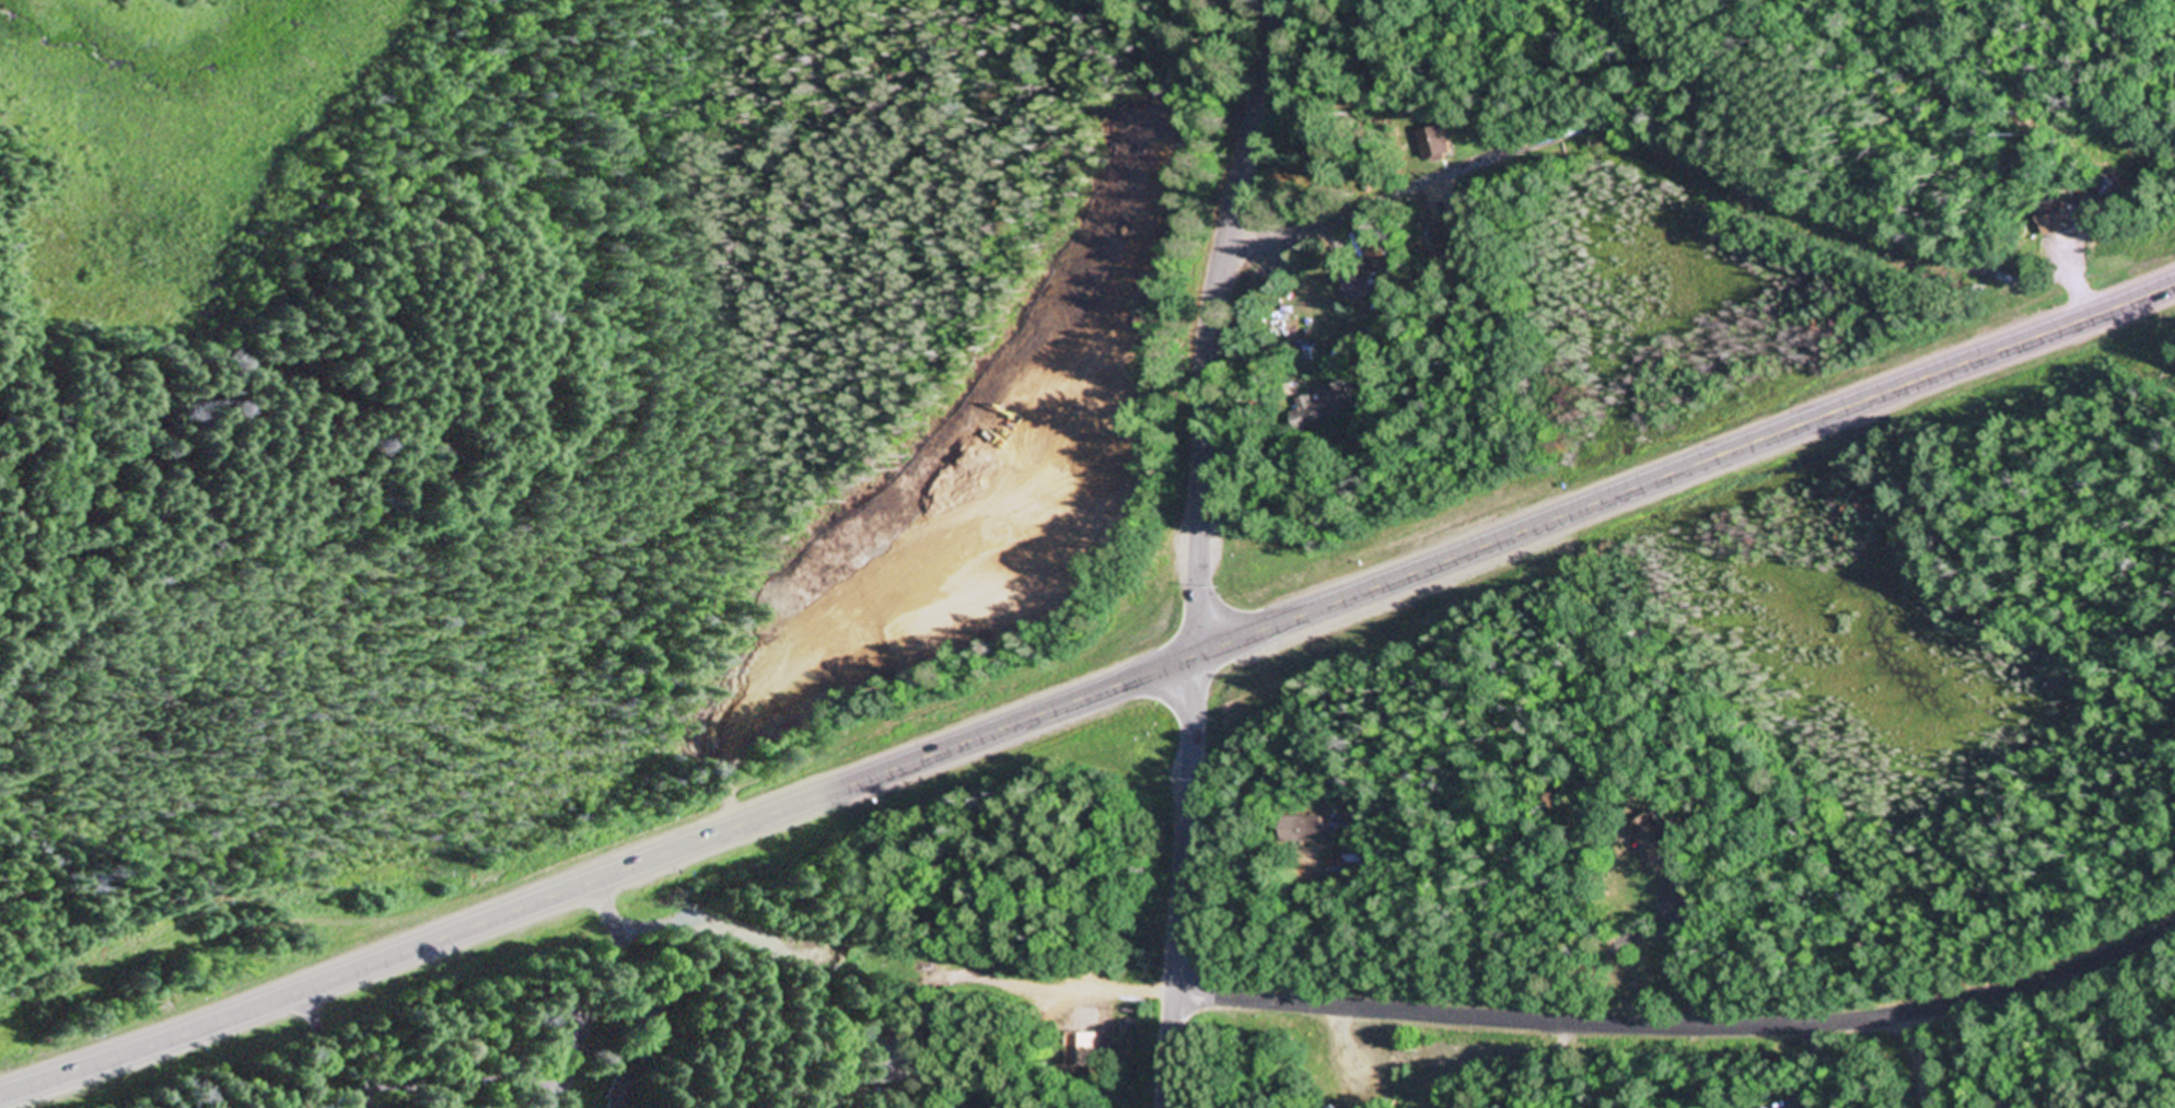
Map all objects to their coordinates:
building: (2052, 219)
building: (1449, 237)
building: (1356, 283)
road: (1209, 324)
building: (1322, 406)
road: (1093, 642)
road: (1090, 690)
road: (1140, 735)
building: (1304, 830)
building: (1654, 838)
road: (1182, 882)
building: (1678, 886)
road: (601, 990)
building: (638, 1014)
road: (1684, 1029)
road: (334, 1049)
road: (1921, 1061)
road: (467, 1083)
road: (463, 1095)
building: (615, 1097)
building: (1765, 1107)

